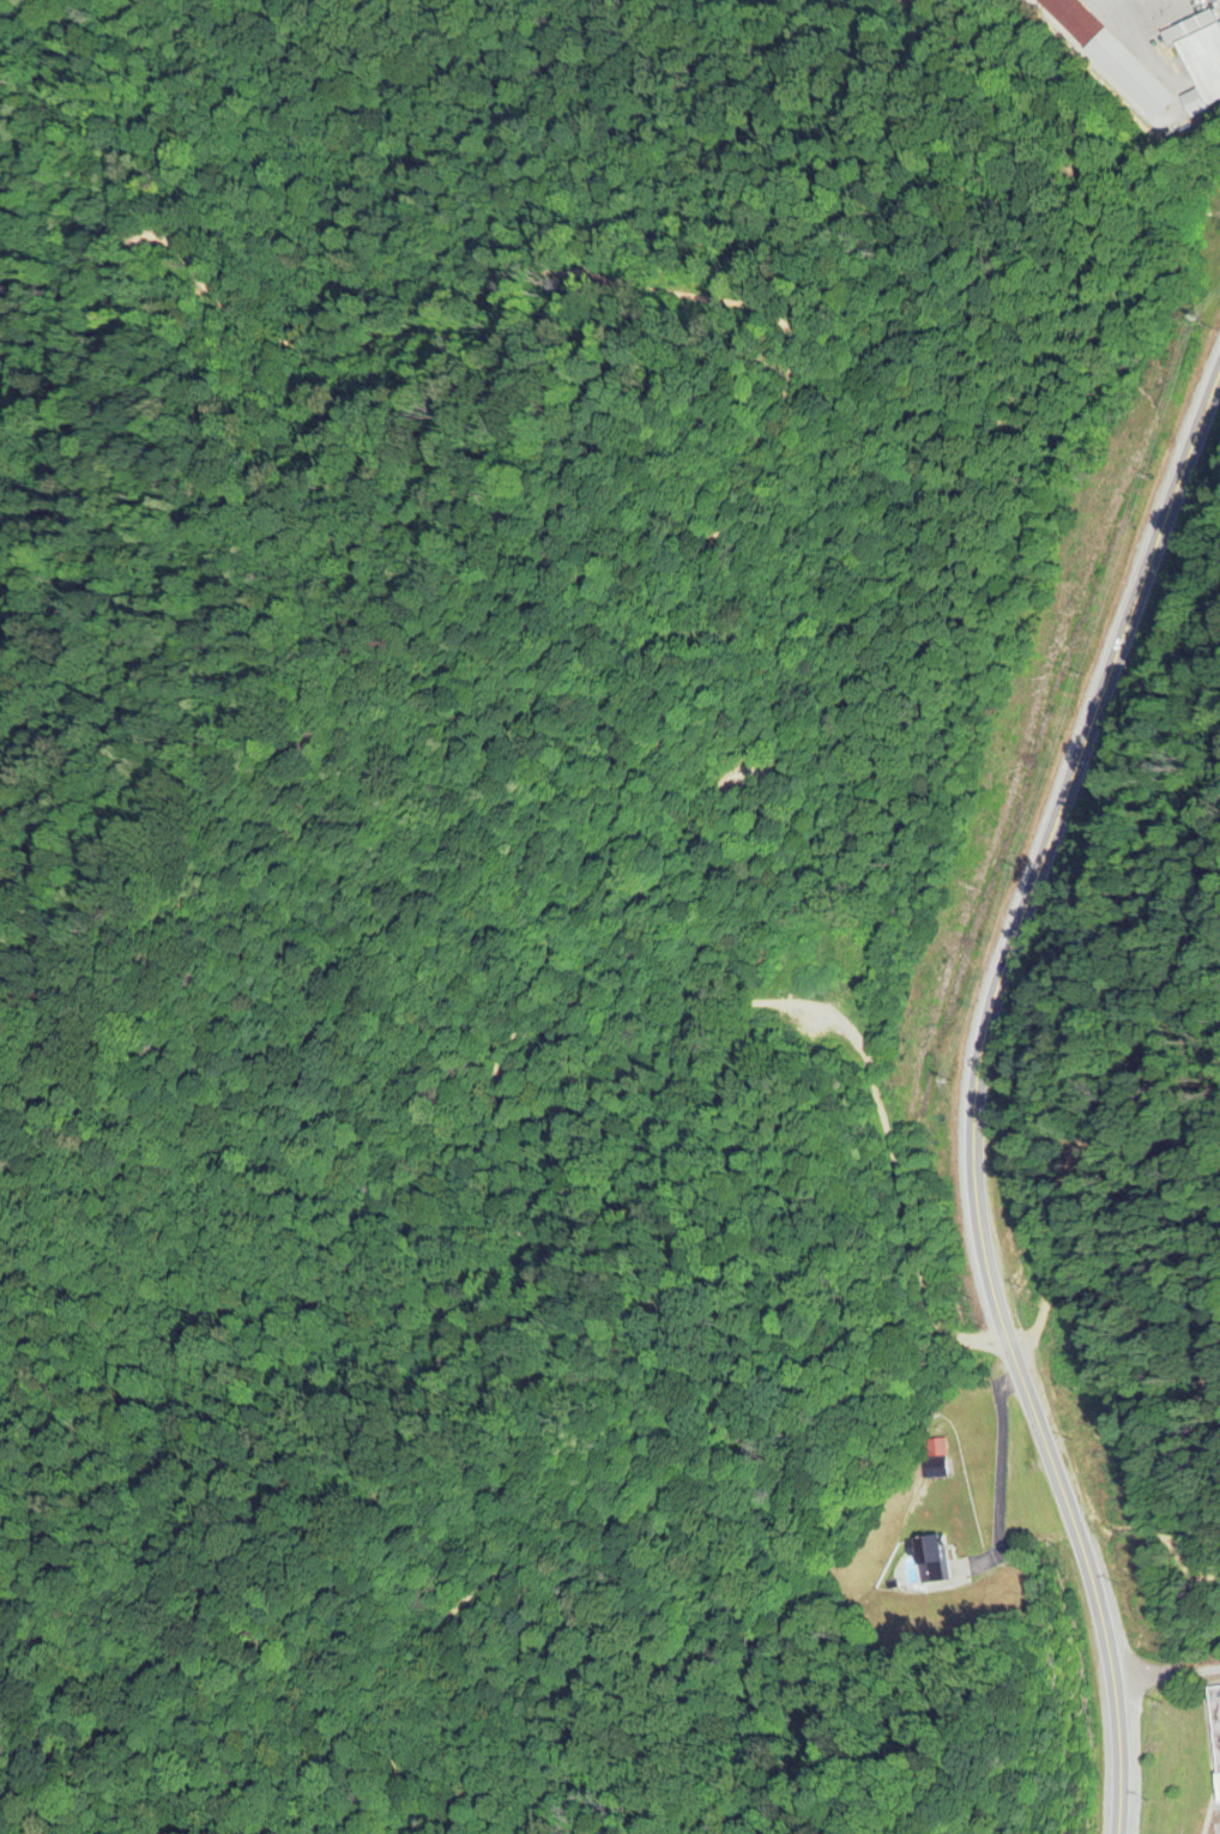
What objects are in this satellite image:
building: (1106, 55)
building: (1198, 59)
road: (978, 1093)
building: (932, 1459)
building: (924, 1562)
building: (1216, 1719)

